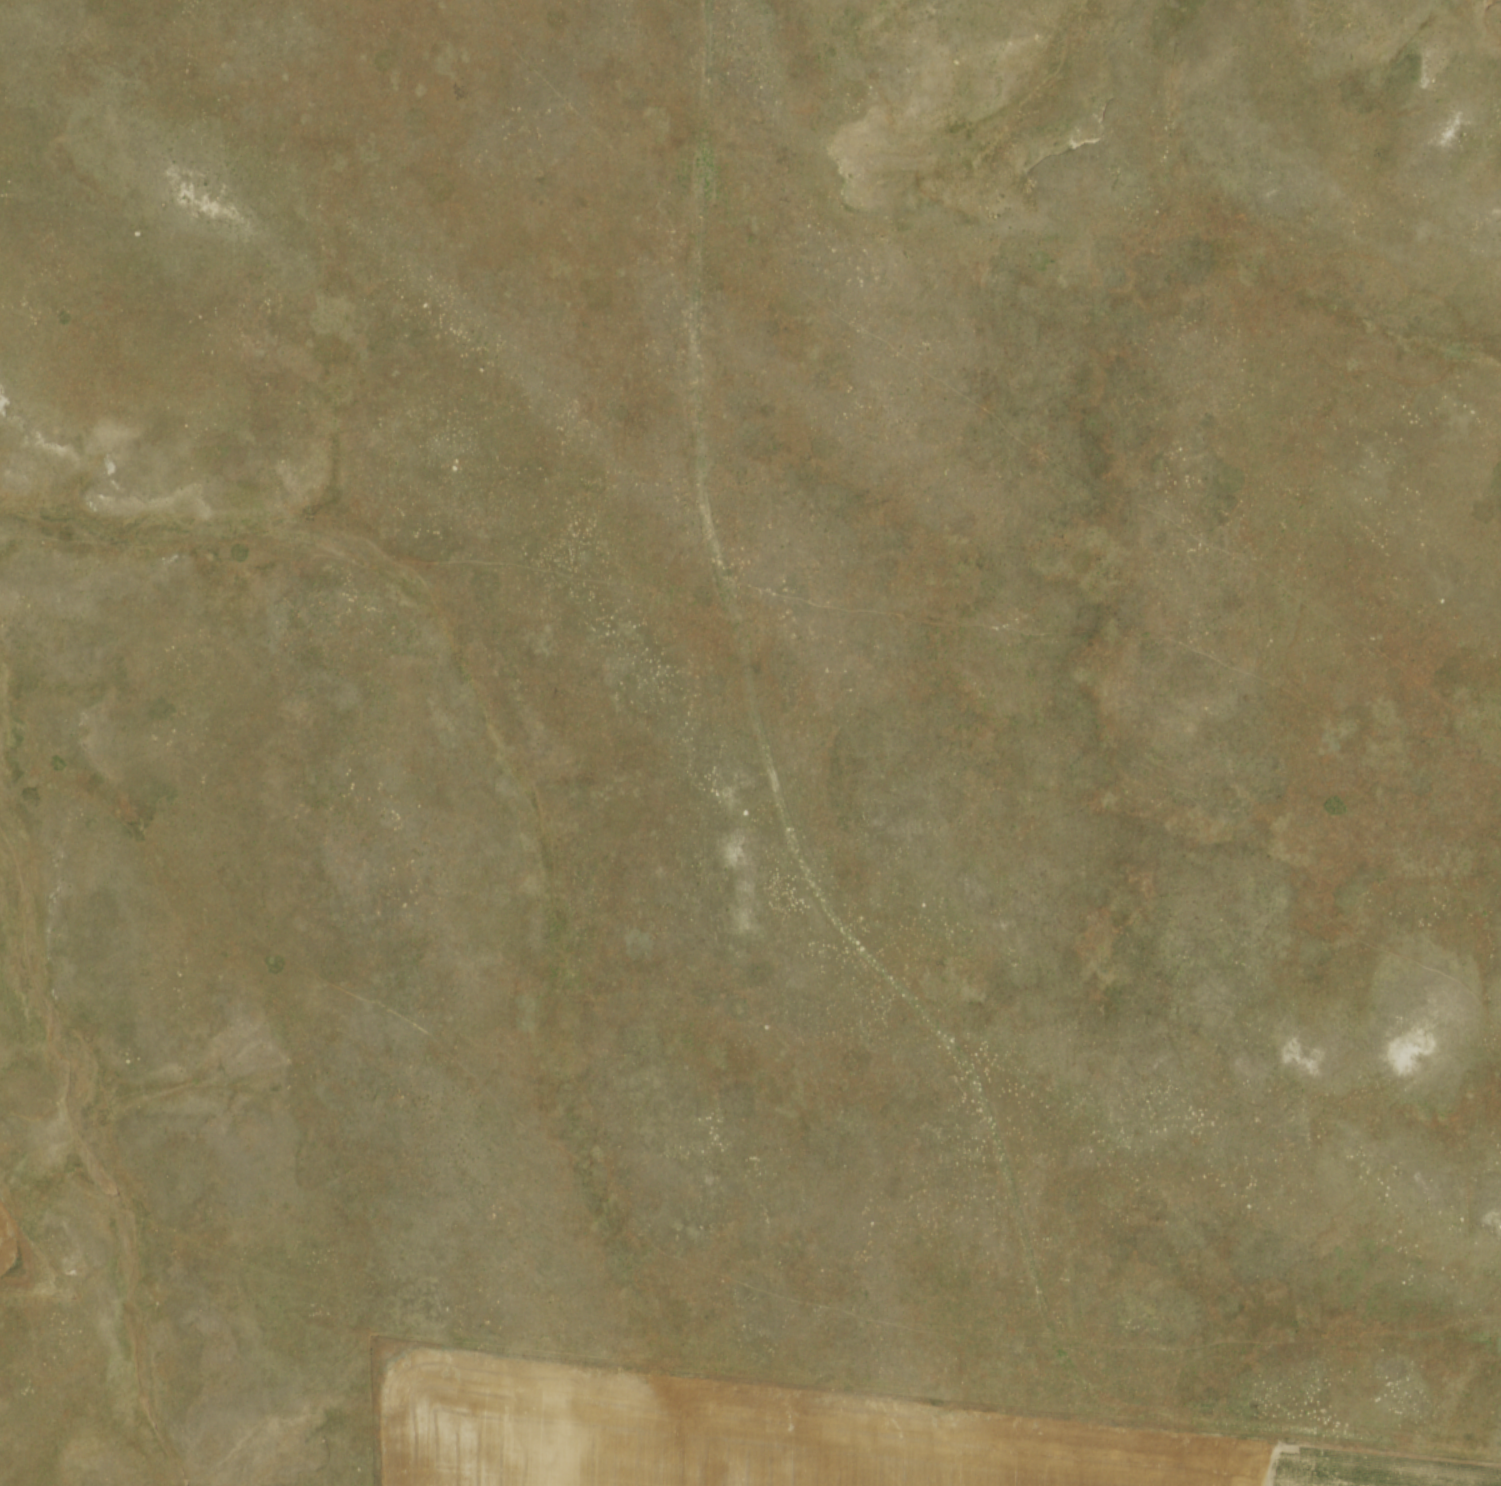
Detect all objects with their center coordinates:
crop: (10, 1237)
crop: (804, 1432)

